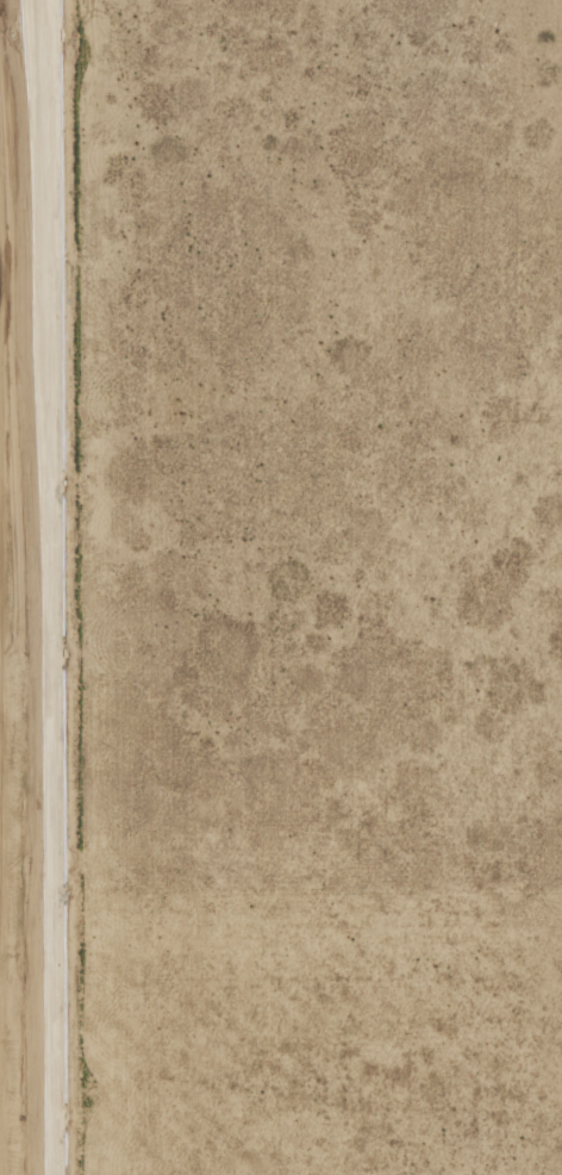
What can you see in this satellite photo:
road: (55, 587)

